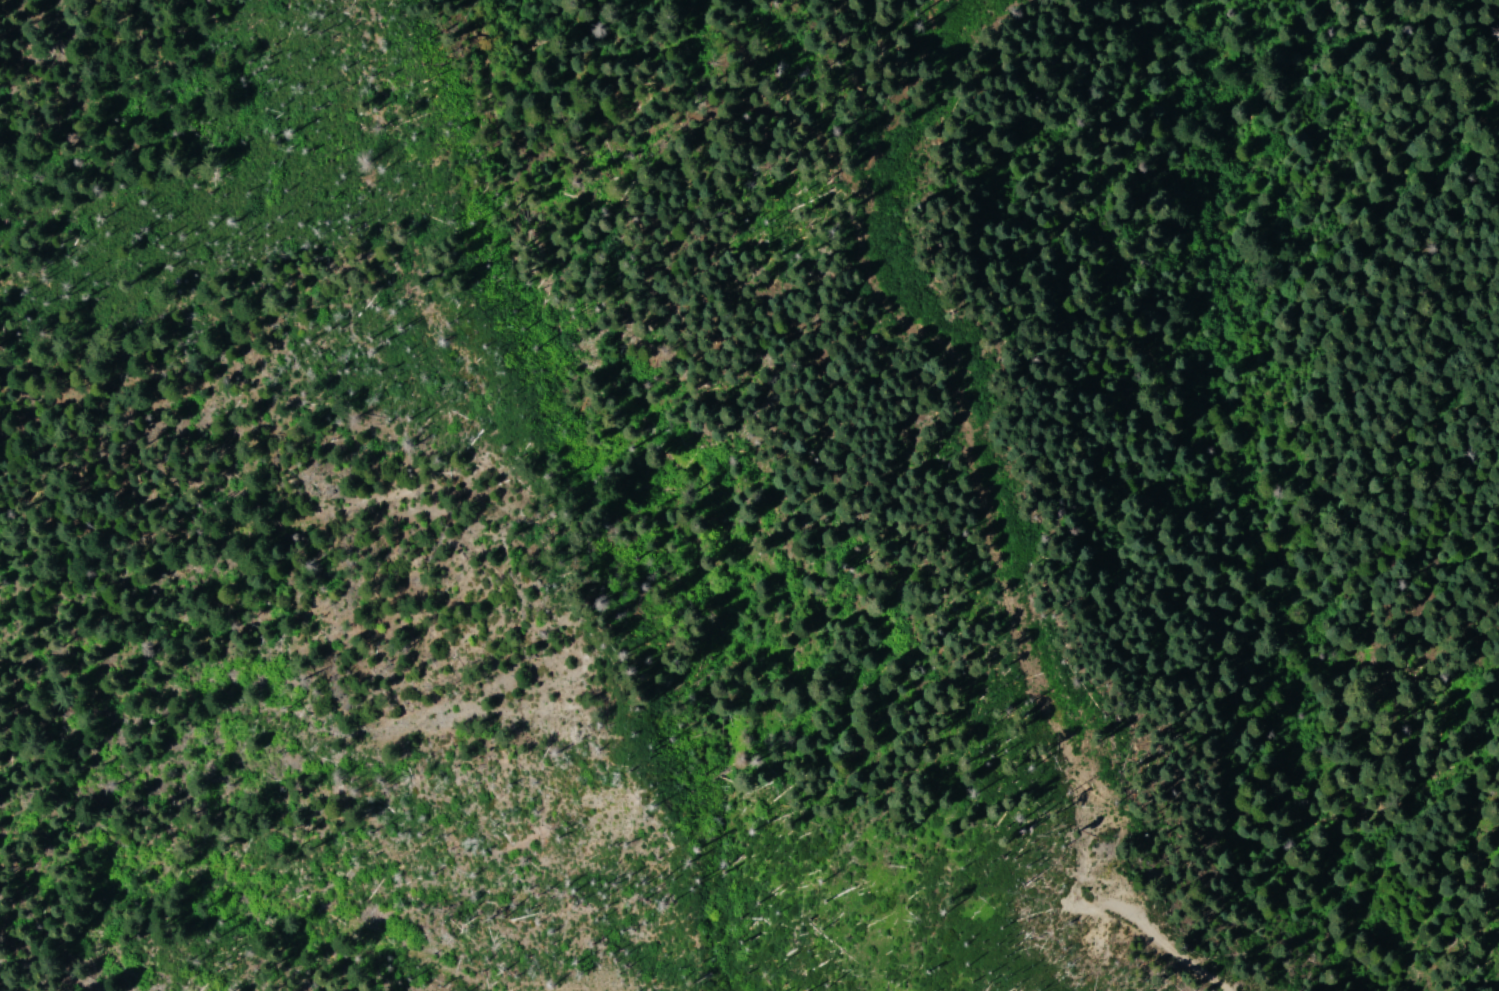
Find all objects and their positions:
road: (1177, 959)

